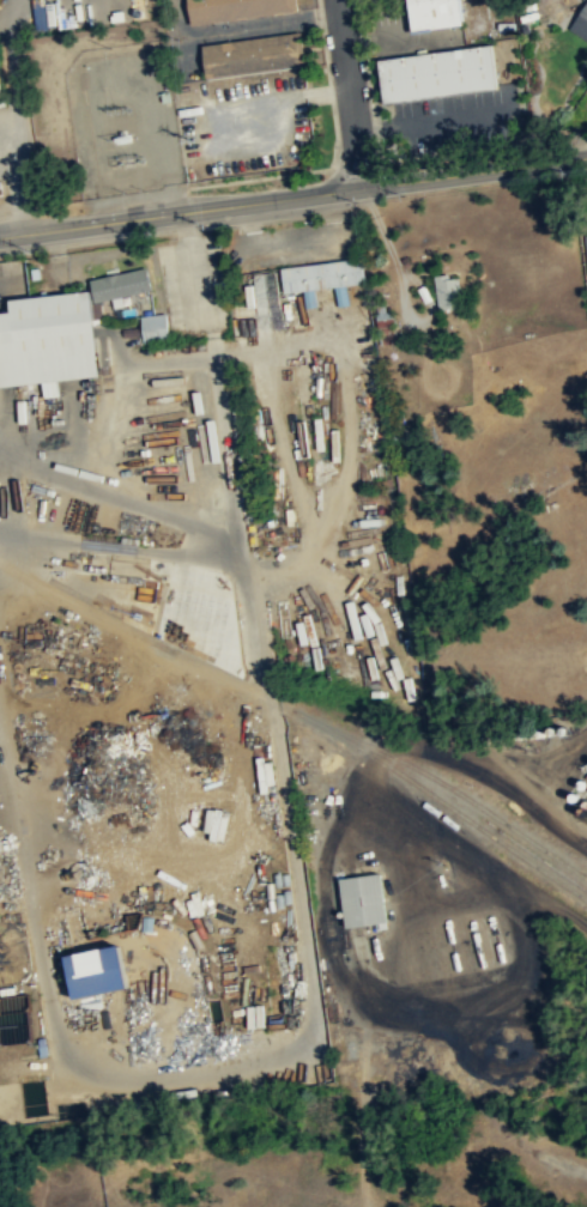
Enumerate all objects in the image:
building: (235, 11)
building: (430, 14)
building: (581, 25)
building: (253, 57)
building: (432, 74)
building: (1, 83)
road: (349, 93)
power substation: (125, 117)
road: (293, 196)
building: (586, 223)
building: (585, 247)
building: (320, 273)
building: (120, 284)
building: (449, 291)
building: (153, 328)
building: (48, 339)
building: (371, 623)
railway: (170, 649)
building: (267, 774)
railway: (470, 799)
railway: (465, 817)
building: (367, 899)
building: (102, 971)
building: (256, 1015)

